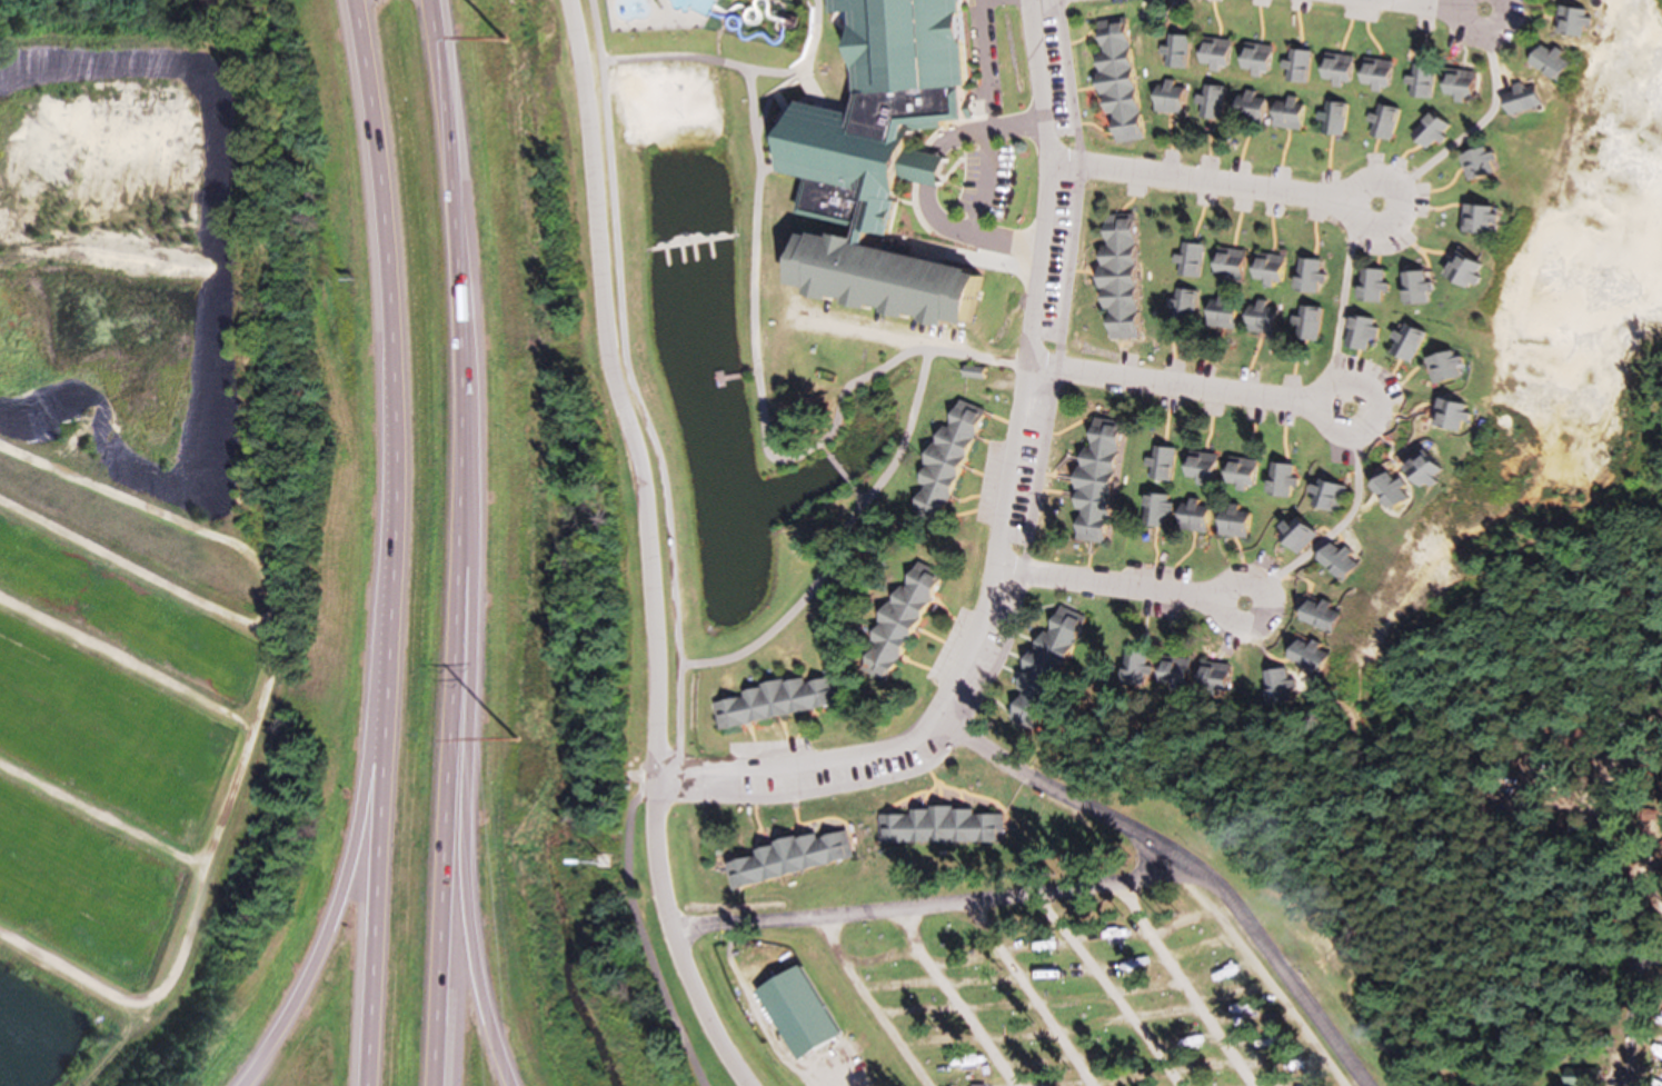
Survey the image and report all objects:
road: (1446, 4)
building: (1570, 22)
power tower: (504, 39)
building: (1174, 52)
building: (1213, 54)
building: (1253, 59)
building: (1545, 61)
building: (1297, 67)
building: (1335, 69)
building: (1374, 74)
building: (1420, 82)
building: (1454, 83)
building: (1114, 86)
building: (1165, 98)
building: (1517, 98)
building: (1210, 104)
building: (1247, 109)
building: (1287, 114)
building: (1334, 119)
building: (1382, 123)
building: (1426, 131)
building: (1475, 163)
building: (866, 165)
road: (1212, 183)
building: (1476, 220)
building: (1188, 261)
building: (1226, 262)
building: (1265, 269)
building: (1461, 273)
building: (1115, 276)
building: (1307, 277)
building: (1370, 288)
building: (1414, 290)
road: (1342, 300)
building: (1184, 308)
building: (1220, 313)
building: (1260, 318)
building: (1308, 323)
building: (1360, 333)
building: (1404, 343)
road: (915, 352)
building: (1442, 368)
road: (1187, 386)
building: (1449, 417)
building: (382, 426)
building: (943, 461)
building: (1163, 464)
building: (1198, 467)
building: (1420, 470)
building: (1240, 474)
building: (1093, 479)
building: (1283, 481)
building: (1387, 491)
building: (1331, 497)
road: (1002, 509)
building: (1176, 515)
building: (1234, 522)
road: (1031, 532)
building: (1297, 539)
road: (387, 541)
road: (455, 542)
road: (649, 548)
building: (1336, 561)
road: (1119, 585)
building: (1317, 615)
building: (895, 625)
building: (1055, 638)
building: (1306, 655)
building: (1136, 670)
building: (1173, 672)
building: (1213, 677)
building: (1277, 688)
building: (770, 704)
building: (1022, 713)
power tower: (517, 737)
road: (465, 781)
building: (1653, 815)
building: (942, 826)
road: (350, 855)
building: (788, 855)
road: (1184, 860)
building: (1631, 878)
road: (927, 906)
building: (365, 962)
road: (1181, 986)
road: (1104, 989)
road: (1027, 993)
road: (951, 999)
road: (870, 1004)
building: (794, 1010)
road: (1626, 1012)
building: (1095, 1026)
building: (1576, 1077)
building: (1648, 1080)

